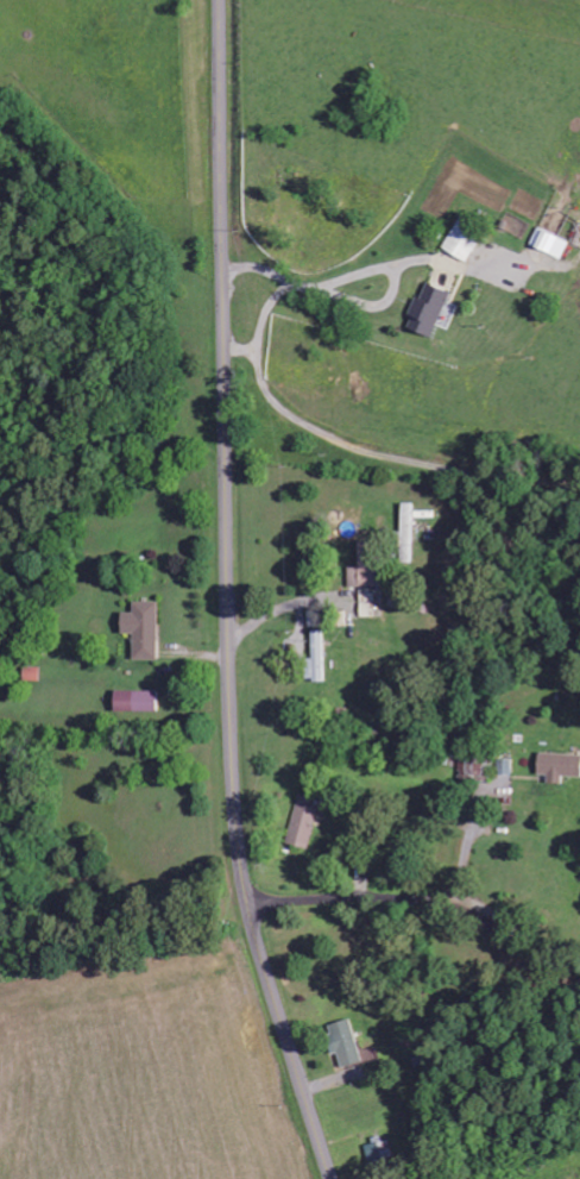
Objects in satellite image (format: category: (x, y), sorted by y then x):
building: (464, 242)
building: (410, 533)
building: (370, 577)
road: (228, 596)
building: (314, 620)
building: (143, 632)
building: (317, 657)
building: (32, 676)
building: (145, 703)
building: (474, 765)
building: (559, 766)
building: (504, 767)
building: (304, 823)
road: (423, 901)
building: (347, 1046)
building: (379, 1156)

